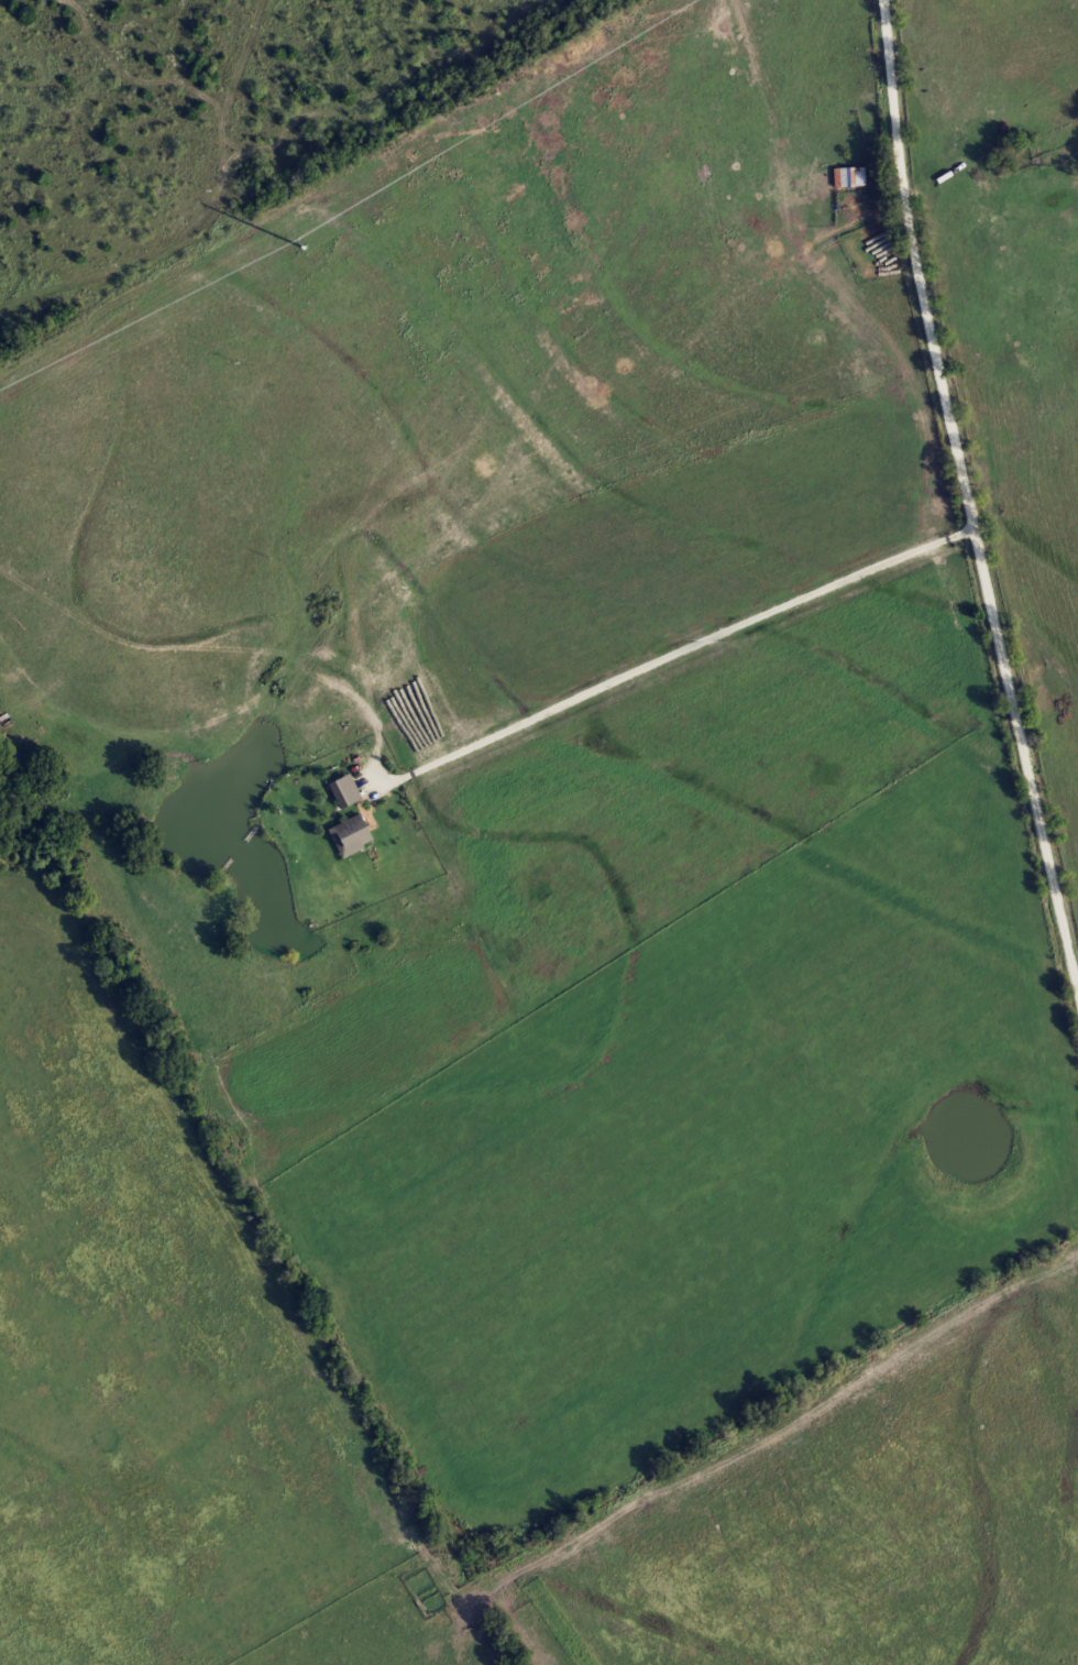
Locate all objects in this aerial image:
road: (945, 146)
building: (847, 177)
power tower: (304, 247)
road: (966, 493)
road: (676, 653)
building: (348, 792)
building: (353, 836)
road: (1015, 1610)
road: (635, 1622)

